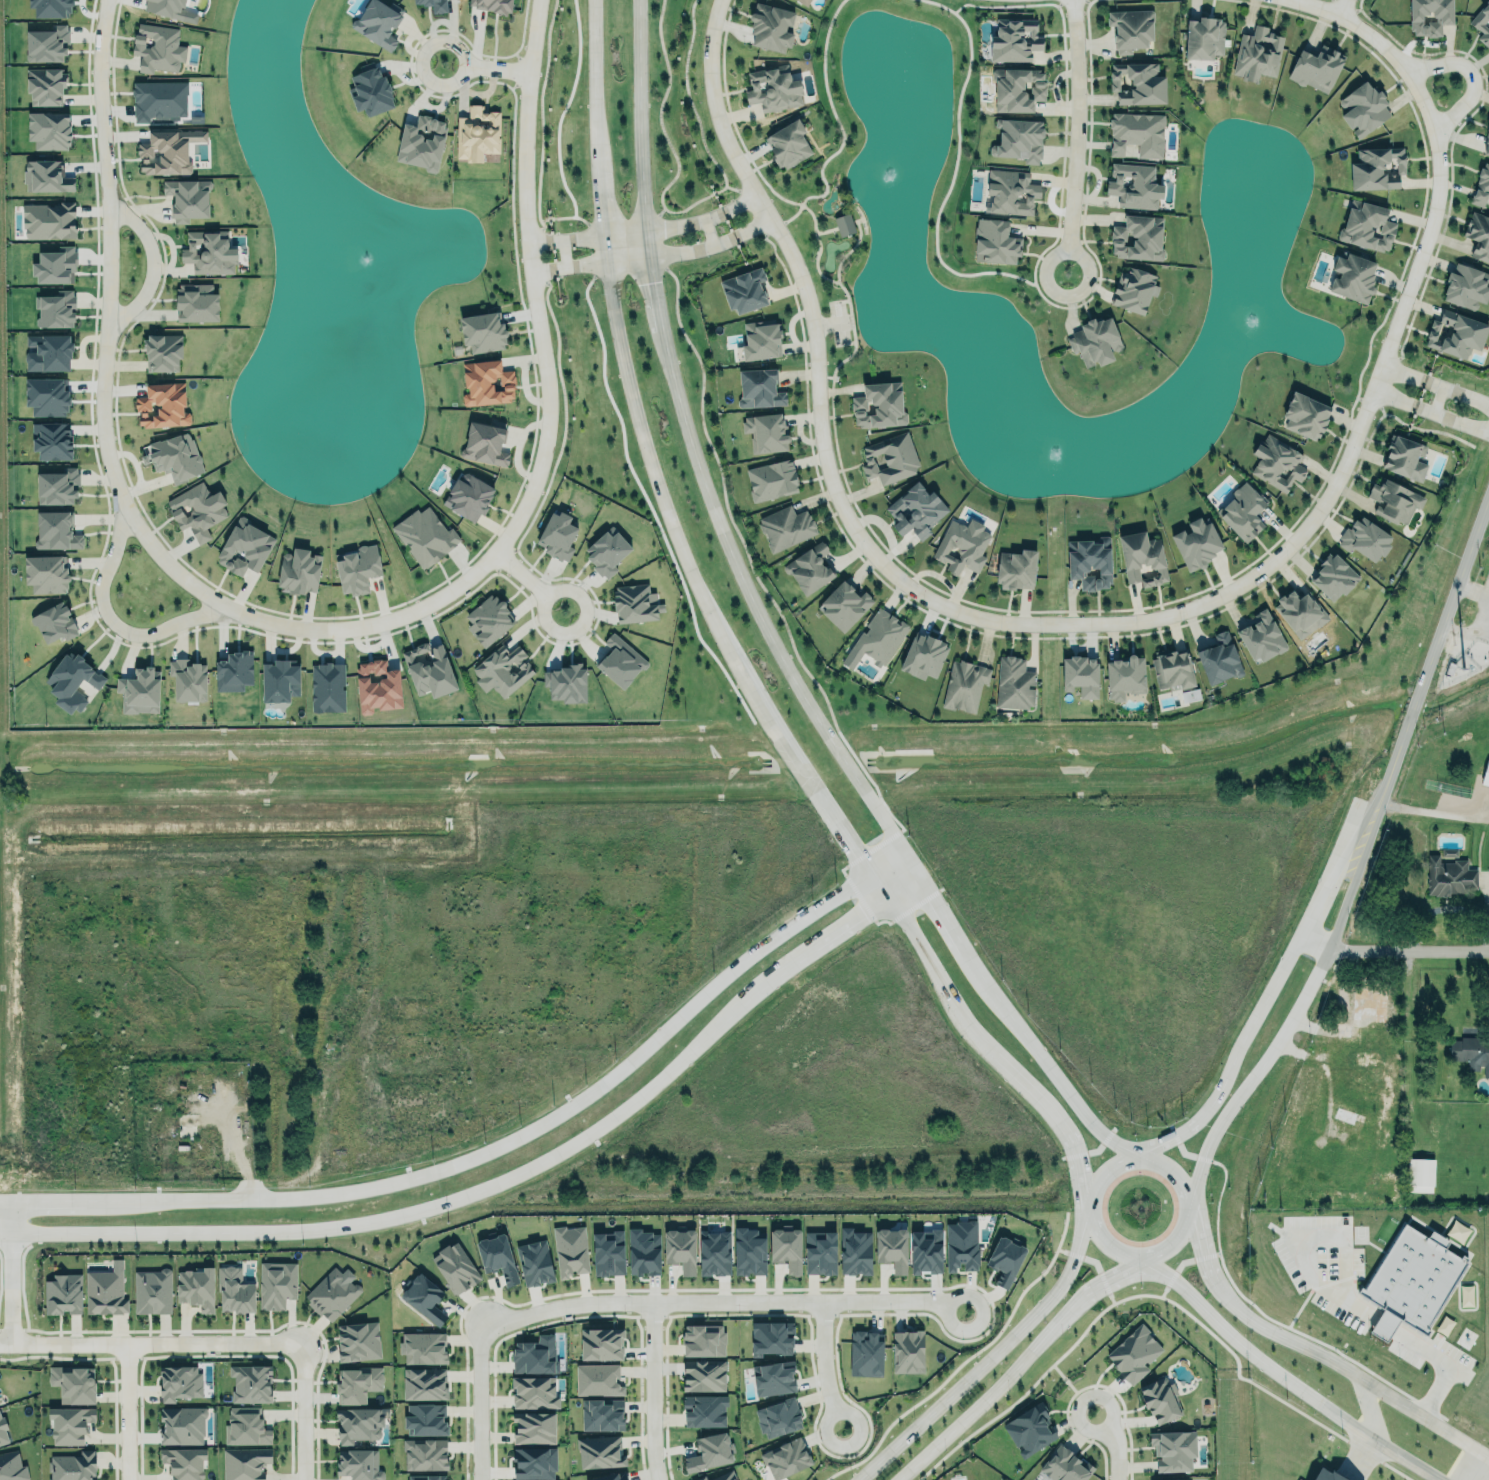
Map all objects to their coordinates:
road: (1336, 1)
building: (805, 2)
building: (433, 5)
building: (491, 5)
building: (50, 8)
building: (166, 8)
building: (1429, 16)
building: (378, 22)
building: (1482, 24)
building: (771, 28)
building: (1130, 30)
building: (1205, 37)
building: (1014, 40)
building: (46, 45)
building: (155, 46)
building: (1257, 54)
road: (1476, 65)
road: (486, 68)
building: (1317, 68)
building: (1139, 83)
building: (44, 84)
building: (774, 89)
building: (1018, 89)
building: (371, 91)
building: (159, 101)
building: (1363, 109)
building: (49, 130)
road: (1074, 132)
building: (1137, 133)
building: (477, 134)
building: (1019, 139)
building: (1485, 142)
building: (421, 143)
building: (788, 144)
building: (167, 151)
road: (1439, 158)
building: (1374, 166)
building: (46, 176)
building: (1135, 185)
building: (1480, 186)
building: (1010, 192)
building: (188, 199)
road: (740, 201)
building: (48, 221)
building: (844, 224)
road: (755, 227)
building: (1368, 227)
road: (636, 230)
building: (1478, 236)
building: (1138, 238)
road: (539, 241)
building: (996, 241)
building: (209, 253)
road: (645, 255)
road: (151, 265)
building: (55, 266)
road: (542, 269)
building: (1353, 277)
building: (1467, 286)
building: (1133, 288)
building: (744, 291)
building: (198, 307)
building: (55, 310)
building: (483, 332)
building: (1455, 334)
building: (762, 340)
building: (1094, 342)
building: (47, 350)
building: (162, 353)
road: (1401, 363)
road: (1454, 381)
building: (487, 383)
road: (630, 384)
road: (1391, 389)
building: (760, 390)
building: (47, 397)
building: (162, 406)
building: (880, 406)
road: (1449, 410)
building: (1306, 416)
building: (766, 433)
building: (52, 441)
building: (485, 444)
road: (693, 449)
building: (173, 457)
building: (1406, 458)
building: (889, 459)
building: (1277, 463)
building: (771, 480)
building: (57, 486)
building: (468, 497)
building: (1394, 501)
building: (197, 510)
building: (917, 511)
building: (1245, 512)
building: (785, 527)
building: (56, 531)
building: (558, 533)
building: (424, 536)
building: (1366, 540)
building: (1197, 544)
building: (961, 546)
building: (244, 548)
building: (606, 553)
building: (1143, 560)
building: (1090, 563)
building: (357, 569)
building: (811, 570)
road: (902, 570)
building: (1017, 570)
building: (299, 572)
building: (1334, 572)
building: (46, 574)
road: (529, 582)
building: (635, 604)
building: (846, 606)
building: (1302, 612)
building: (488, 617)
building: (54, 623)
road: (115, 624)
road: (326, 628)
building: (1263, 638)
building: (877, 639)
road: (1434, 653)
building: (924, 656)
building: (620, 658)
building: (1220, 661)
building: (1173, 669)
building: (429, 670)
building: (233, 671)
building: (503, 671)
building: (1080, 673)
building: (187, 678)
building: (1126, 678)
building: (280, 681)
building: (72, 682)
building: (963, 683)
building: (565, 684)
building: (1014, 684)
building: (327, 685)
building: (377, 686)
building: (137, 690)
building: (1486, 774)
road: (828, 805)
road: (1434, 811)
building: (1448, 853)
road: (1337, 868)
road: (1353, 875)
building: (1450, 875)
road: (903, 885)
road: (944, 916)
road: (849, 922)
road: (1393, 948)
road: (923, 951)
building: (1364, 1009)
road: (1256, 1017)
road: (1478, 1028)
building: (1471, 1051)
road: (1004, 1064)
road: (1325, 1069)
road: (1254, 1072)
road: (1052, 1074)
building: (1344, 1115)
road: (1182, 1132)
road: (497, 1148)
road: (1071, 1148)
building: (1420, 1175)
road: (1180, 1181)
road: (445, 1203)
road: (12, 1218)
road: (1299, 1244)
building: (891, 1245)
building: (786, 1246)
building: (961, 1246)
building: (571, 1251)
road: (1202, 1251)
building: (643, 1252)
building: (749, 1252)
building: (855, 1252)
building: (926, 1252)
building: (714, 1253)
building: (820, 1253)
building: (608, 1254)
building: (1004, 1257)
building: (497, 1258)
building: (534, 1263)
building: (455, 1268)
building: (1410, 1276)
road: (1105, 1279)
building: (275, 1281)
road: (12, 1287)
building: (195, 1288)
building: (234, 1289)
building: (153, 1290)
building: (105, 1291)
building: (330, 1292)
building: (63, 1294)
building: (425, 1294)
road: (719, 1299)
road: (1236, 1305)
road: (1064, 1316)
road: (1381, 1327)
building: (771, 1336)
building: (703, 1340)
road: (151, 1341)
building: (359, 1341)
building: (600, 1341)
building: (423, 1348)
building: (1134, 1349)
building: (907, 1352)
building: (866, 1353)
building: (534, 1355)
road: (988, 1359)
road: (822, 1360)
road: (1439, 1362)
building: (703, 1375)
building: (774, 1376)
building: (598, 1380)
road: (1283, 1380)
building: (356, 1382)
building: (179, 1383)
road: (1371, 1383)
building: (73, 1384)
building: (251, 1384)
building: (424, 1384)
road: (653, 1390)
building: (534, 1393)
building: (1160, 1400)
road: (480, 1405)
road: (978, 1406)
road: (1367, 1407)
road: (304, 1409)
road: (124, 1411)
building: (704, 1411)
building: (601, 1413)
building: (778, 1418)
building: (425, 1419)
building: (355, 1422)
building: (533, 1424)
building: (69, 1425)
building: (181, 1425)
building: (246, 1427)
building: (1029, 1430)
building: (2, 1432)
road: (1119, 1444)
building: (1172, 1448)
building: (424, 1452)
building: (600, 1452)
building: (710, 1452)
building: (785, 1458)
building: (533, 1461)
building: (358, 1462)
building: (184, 1463)
building: (245, 1463)
building: (1064, 1465)
road: (1470, 1465)
building: (11, 1466)
building: (71, 1466)
building: (606, 1475)
building: (1325, 1475)
building: (427, 1477)
building: (1177, 1479)

